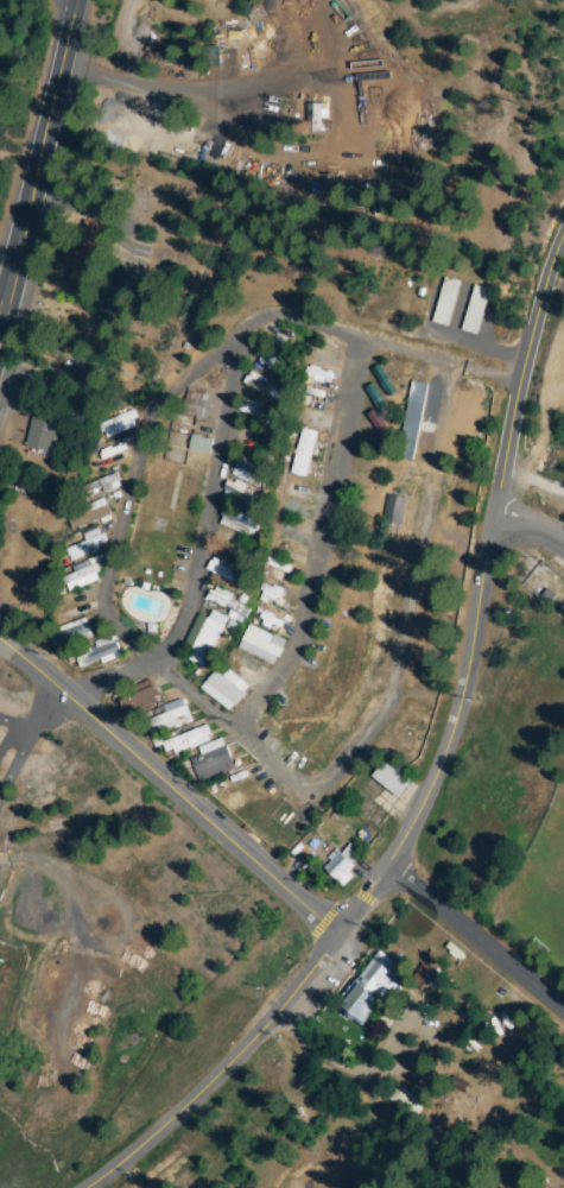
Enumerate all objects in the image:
road: (63, 14)
road: (221, 89)
building: (317, 119)
road: (38, 163)
building: (85, 254)
building: (446, 302)
building: (476, 311)
building: (319, 352)
road: (207, 366)
building: (265, 386)
building: (196, 406)
building: (259, 413)
building: (412, 421)
building: (119, 422)
building: (44, 428)
building: (199, 444)
building: (305, 454)
building: (251, 469)
building: (293, 482)
building: (99, 484)
building: (241, 494)
road: (209, 508)
building: (393, 510)
building: (89, 517)
building: (239, 522)
building: (284, 525)
road: (527, 530)
road: (322, 546)
building: (85, 548)
building: (278, 564)
building: (228, 574)
building: (80, 576)
building: (270, 590)
building: (229, 604)
building: (72, 633)
building: (207, 637)
building: (261, 645)
building: (96, 655)
building: (222, 689)
building: (138, 700)
building: (170, 718)
road: (368, 732)
building: (186, 741)
building: (210, 762)
road: (439, 771)
building: (394, 778)
road: (170, 789)
building: (343, 864)
road: (475, 937)
building: (425, 978)
building: (372, 987)
building: (449, 1104)

